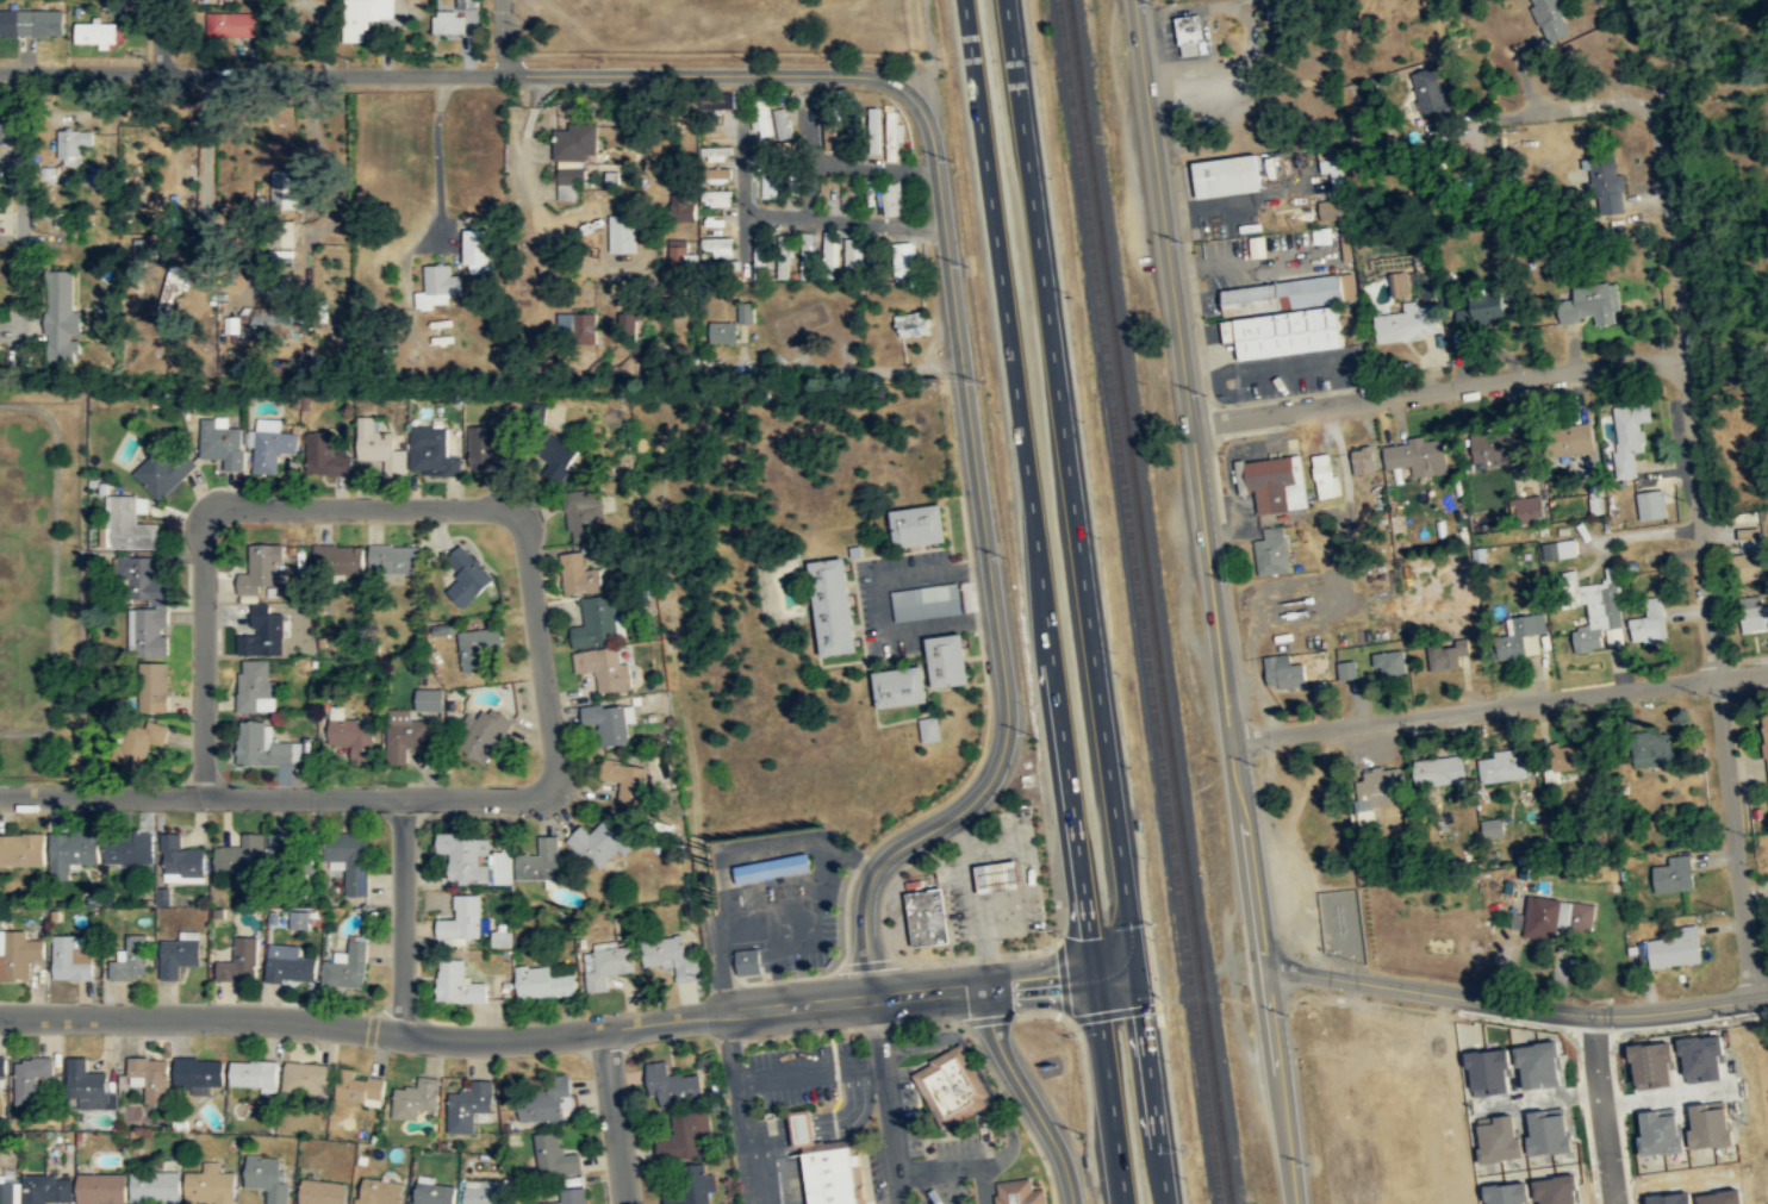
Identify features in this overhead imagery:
building: (468, 6)
building: (111, 8)
building: (363, 15)
building: (1552, 19)
building: (448, 20)
building: (30, 23)
building: (232, 24)
building: (94, 33)
building: (1191, 35)
road: (157, 36)
road: (502, 37)
road: (251, 73)
road: (718, 74)
building: (1433, 99)
building: (765, 119)
building: (783, 121)
building: (830, 125)
building: (710, 132)
building: (894, 133)
building: (852, 135)
building: (70, 143)
building: (716, 152)
building: (572, 156)
building: (721, 174)
building: (1229, 175)
building: (1606, 181)
building: (1333, 183)
building: (768, 186)
building: (848, 186)
building: (833, 187)
building: (284, 189)
building: (721, 198)
building: (681, 207)
road: (776, 214)
building: (622, 233)
building: (284, 235)
building: (717, 247)
building: (830, 248)
building: (478, 251)
building: (870, 251)
building: (761, 255)
building: (805, 255)
building: (678, 256)
building: (782, 256)
building: (908, 260)
building: (170, 285)
building: (436, 286)
building: (1593, 304)
building: (1488, 307)
building: (746, 310)
building: (284, 313)
building: (1290, 316)
building: (61, 319)
building: (1408, 322)
building: (914, 324)
building: (577, 326)
building: (628, 326)
building: (723, 330)
road: (1725, 350)
building: (649, 354)
road: (1436, 388)
building: (1631, 433)
building: (1582, 437)
building: (220, 443)
building: (376, 445)
building: (1504, 447)
building: (485, 448)
building: (272, 449)
building: (431, 451)
building: (324, 456)
building: (556, 456)
building: (1419, 456)
building: (1363, 460)
building: (164, 469)
building: (1326, 474)
building: (1274, 482)
building: (1654, 504)
road: (359, 506)
building: (1527, 509)
road: (660, 514)
building: (584, 516)
building: (129, 525)
building: (919, 525)
building: (1558, 549)
building: (1272, 550)
building: (394, 557)
building: (338, 559)
building: (1756, 564)
building: (259, 569)
building: (579, 575)
building: (465, 576)
road: (991, 581)
road: (1045, 601)
road: (1085, 601)
railway: (1141, 601)
railway: (1152, 601)
road: (1213, 601)
building: (926, 603)
building: (144, 605)
building: (833, 606)
building: (1601, 613)
building: (1754, 613)
building: (1650, 622)
building: (594, 623)
building: (444, 628)
building: (261, 631)
building: (1526, 636)
building: (478, 648)
building: (1449, 653)
building: (947, 660)
building: (1392, 662)
building: (603, 668)
building: (1346, 669)
building: (1285, 672)
road: (1256, 678)
road: (1716, 678)
building: (151, 686)
building: (255, 686)
building: (899, 686)
building: (429, 699)
road: (1499, 704)
building: (608, 724)
building: (929, 729)
building: (405, 732)
building: (485, 734)
building: (1766, 734)
building: (353, 737)
building: (137, 742)
building: (263, 747)
building: (1655, 749)
building: (1505, 766)
building: (1440, 771)
building: (625, 780)
building: (1378, 790)
road: (275, 797)
building: (1494, 828)
building: (599, 843)
building: (127, 848)
building: (21, 849)
building: (74, 849)
building: (291, 853)
building: (239, 855)
building: (180, 859)
building: (349, 859)
building: (473, 860)
building: (540, 861)
building: (772, 867)
building: (1676, 874)
building: (998, 875)
gas station: (998, 875)
road: (401, 915)
building: (927, 916)
building: (1557, 917)
building: (299, 919)
building: (461, 919)
building: (1674, 948)
building: (18, 955)
building: (178, 955)
building: (671, 957)
building: (71, 959)
building: (131, 959)
building: (748, 961)
building: (239, 962)
road: (716, 963)
building: (288, 965)
building: (604, 966)
building: (347, 967)
traffic signals: (1119, 971)
building: (542, 982)
building: (456, 984)
road: (1512, 1004)
road: (568, 1029)
road: (879, 1030)
building: (1707, 1058)
building: (1657, 1066)
building: (2, 1068)
road: (979, 1071)
road: (809, 1072)
building: (198, 1073)
building: (255, 1075)
building: (30, 1077)
building: (150, 1077)
building: (305, 1077)
building: (87, 1084)
building: (951, 1085)
building: (359, 1086)
building: (672, 1086)
road: (1027, 1094)
building: (416, 1098)
building: (544, 1103)
building: (468, 1106)
road: (739, 1108)
road: (1601, 1109)
road: (614, 1115)
road: (824, 1123)
building: (1714, 1124)
building: (804, 1125)
building: (1664, 1131)
road: (892, 1134)
building: (681, 1139)
building: (554, 1158)
road: (940, 1169)
building: (834, 1175)
building: (267, 1177)
building: (208, 1185)
road: (983, 1185)
building: (156, 1186)
building: (691, 1187)
building: (46, 1189)
building: (100, 1189)
building: (378, 1190)
building: (322, 1191)
building: (483, 1191)
building: (7, 1192)
building: (430, 1192)
building: (1019, 1192)
building: (569, 1197)

